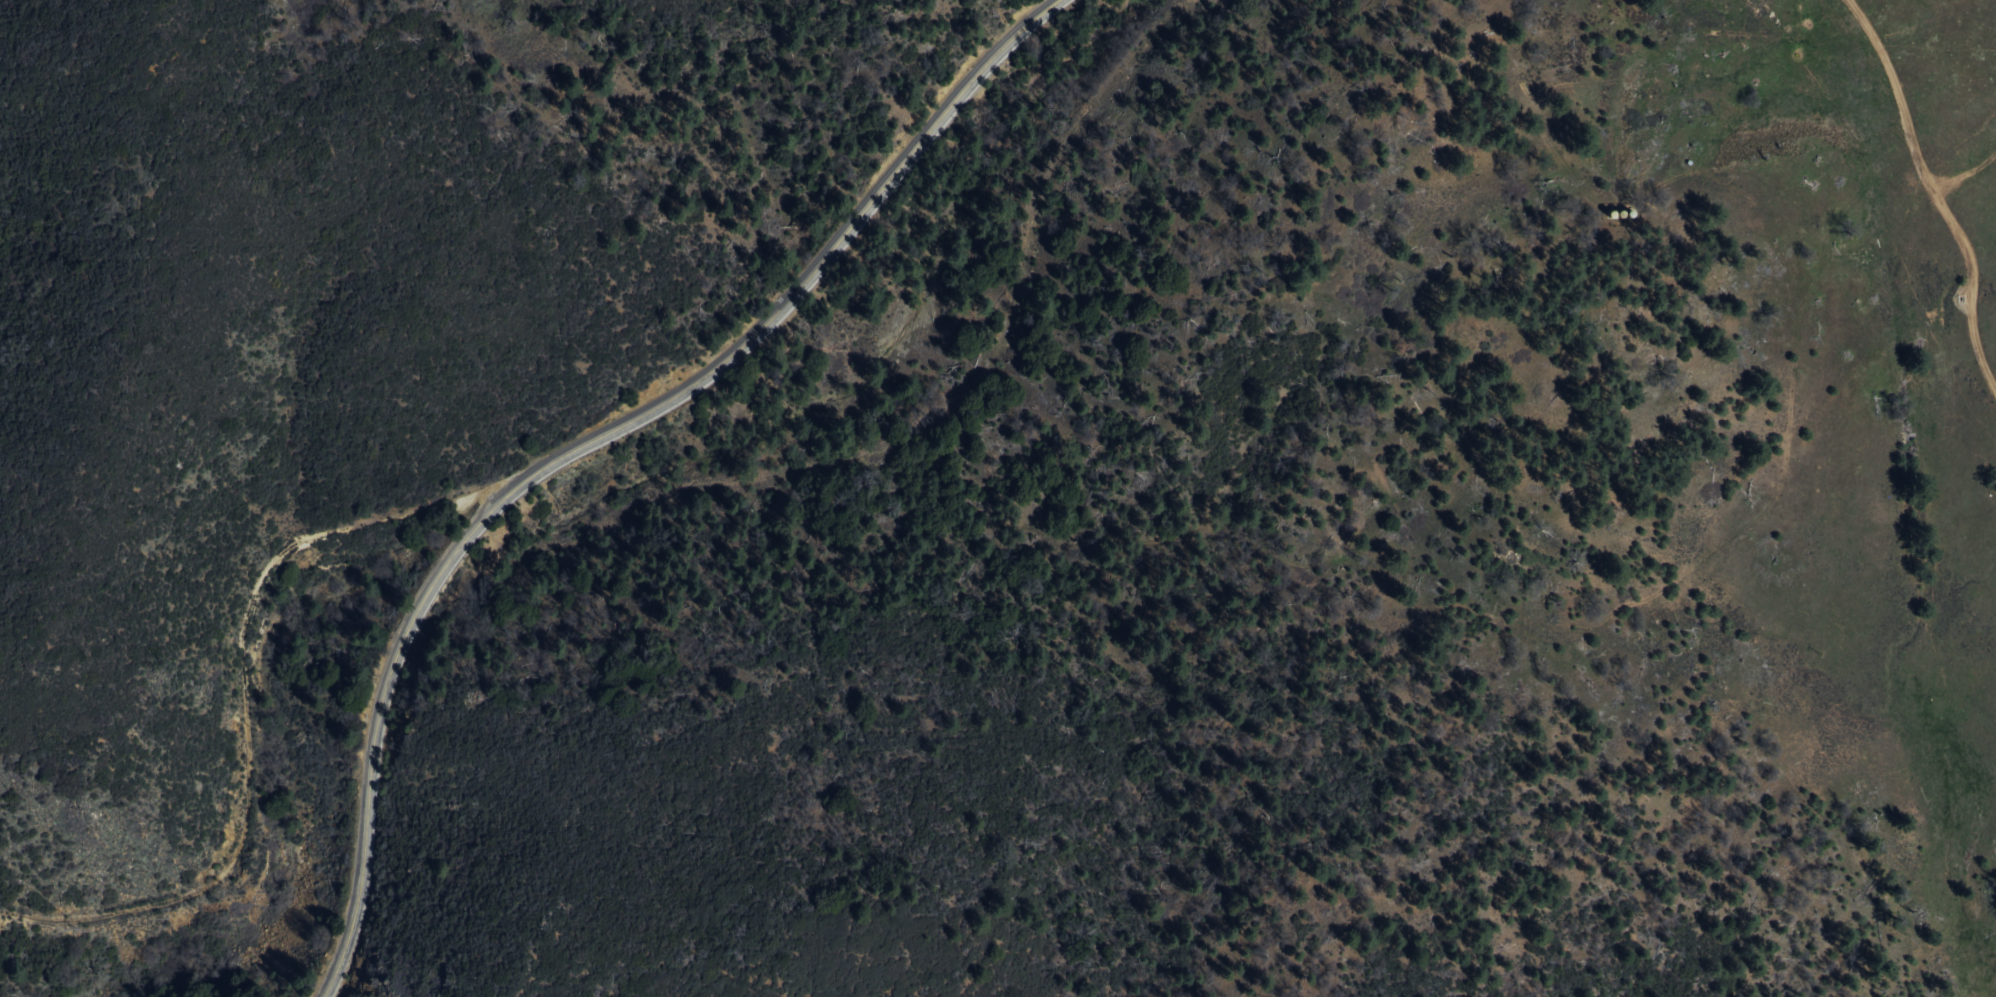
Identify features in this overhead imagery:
road: (1934, 195)
road: (997, 327)
road: (594, 440)
road: (245, 708)

